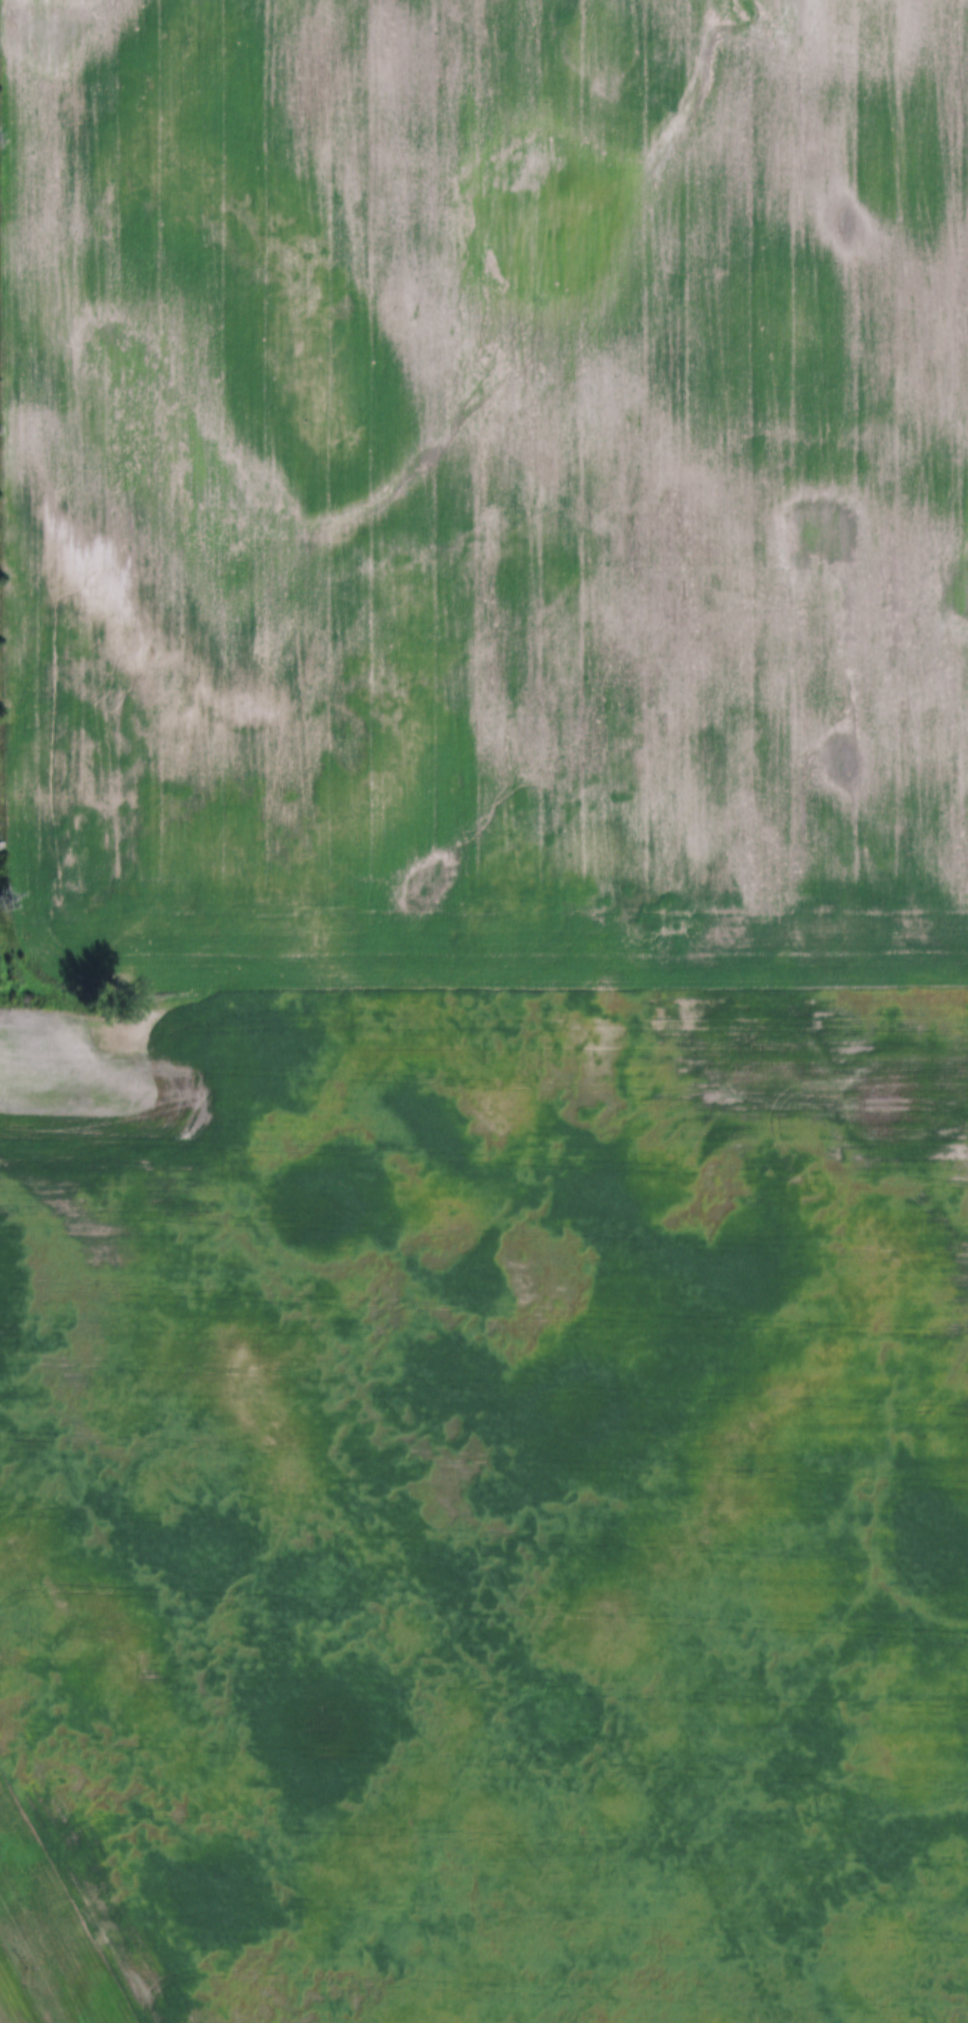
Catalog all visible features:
park: (7, 546)

